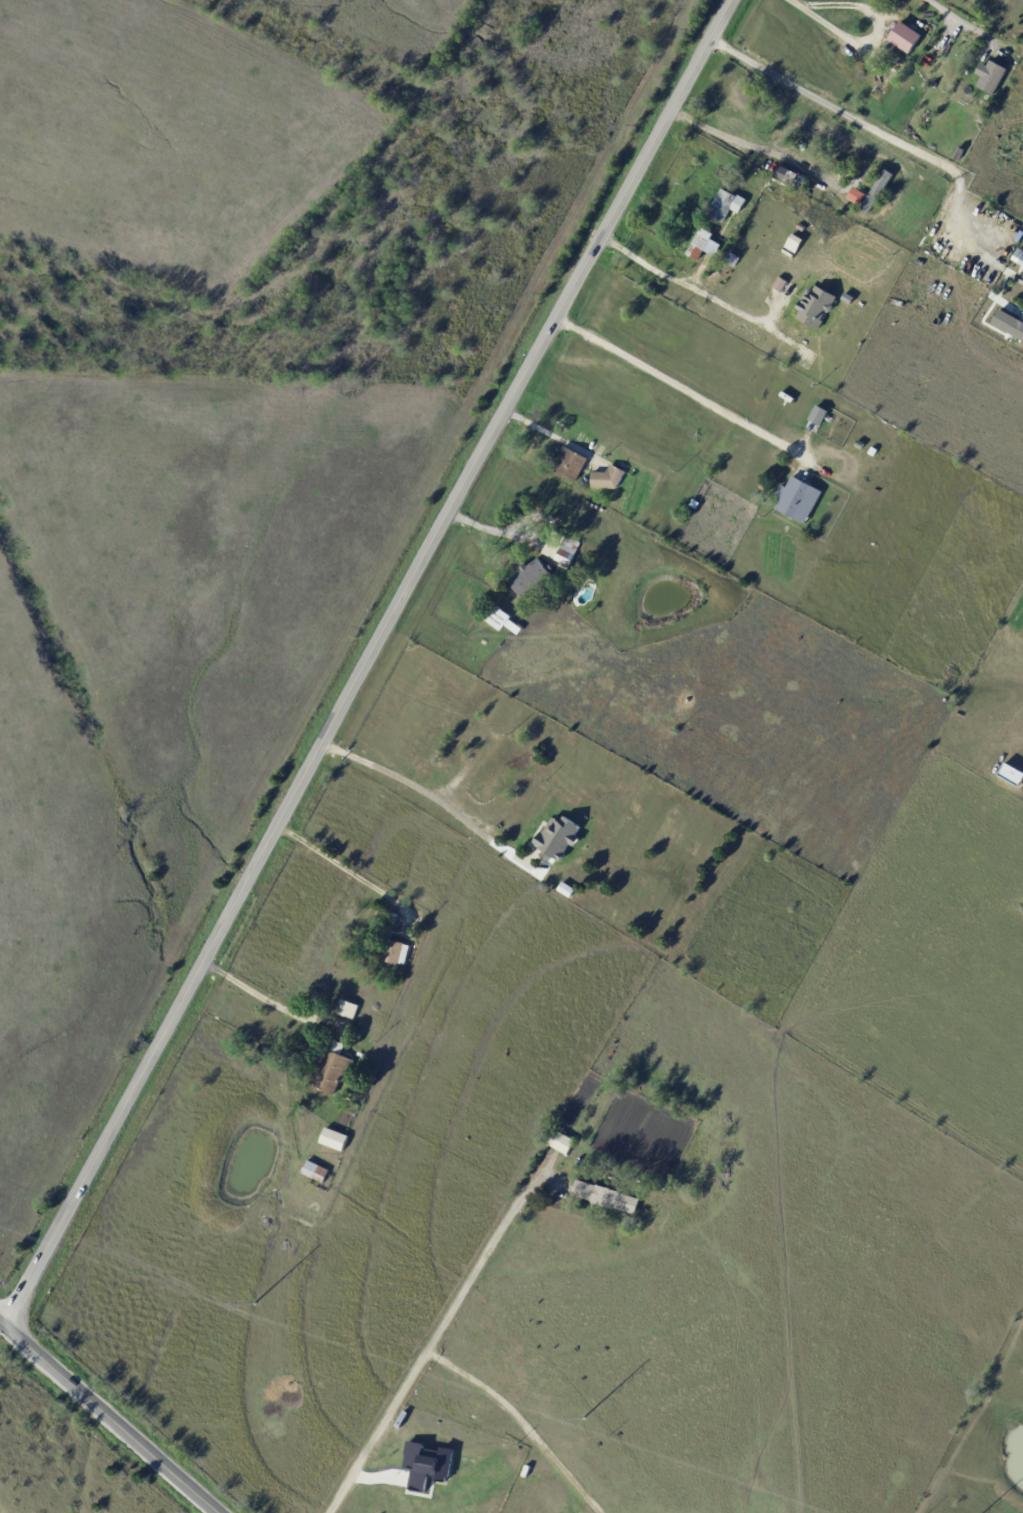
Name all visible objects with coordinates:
road: (957, 19)
road: (835, 30)
building: (906, 37)
building: (991, 76)
building: (887, 78)
building: (983, 118)
road: (872, 128)
road: (754, 141)
building: (959, 153)
building: (780, 172)
building: (801, 182)
building: (875, 190)
building: (727, 204)
building: (792, 242)
building: (701, 243)
building: (1019, 256)
building: (734, 260)
building: (721, 263)
building: (713, 276)
road: (706, 289)
building: (1008, 324)
building: (781, 374)
road: (679, 385)
building: (820, 415)
building: (830, 424)
road: (554, 436)
building: (571, 465)
building: (609, 479)
building: (799, 500)
building: (550, 521)
building: (562, 549)
building: (532, 577)
building: (504, 622)
road: (364, 662)
road: (426, 793)
building: (559, 837)
road: (341, 867)
building: (395, 917)
building: (400, 953)
road: (263, 997)
building: (760, 1003)
building: (349, 1009)
building: (335, 1069)
building: (335, 1139)
building: (564, 1143)
building: (583, 1164)
building: (316, 1171)
building: (608, 1197)
power tower: (254, 1305)
road: (437, 1337)
road: (109, 1417)
power tower: (583, 1418)
building: (426, 1465)

